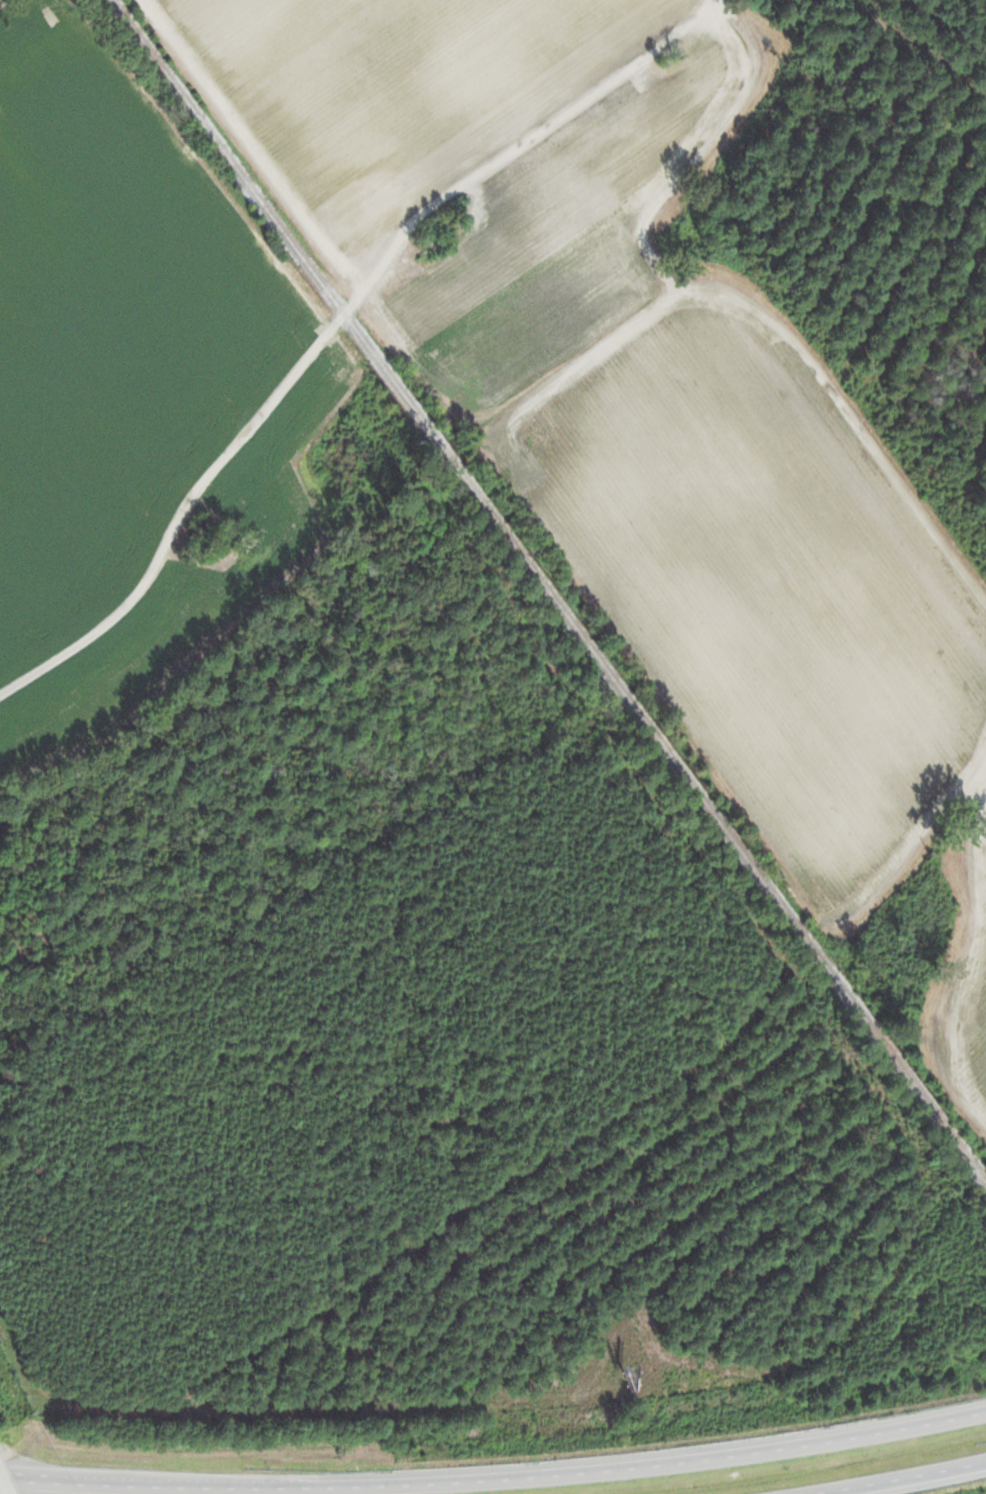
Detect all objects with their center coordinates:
road: (225, 451)
railway: (549, 592)
road: (900, 1479)
road: (495, 1480)

